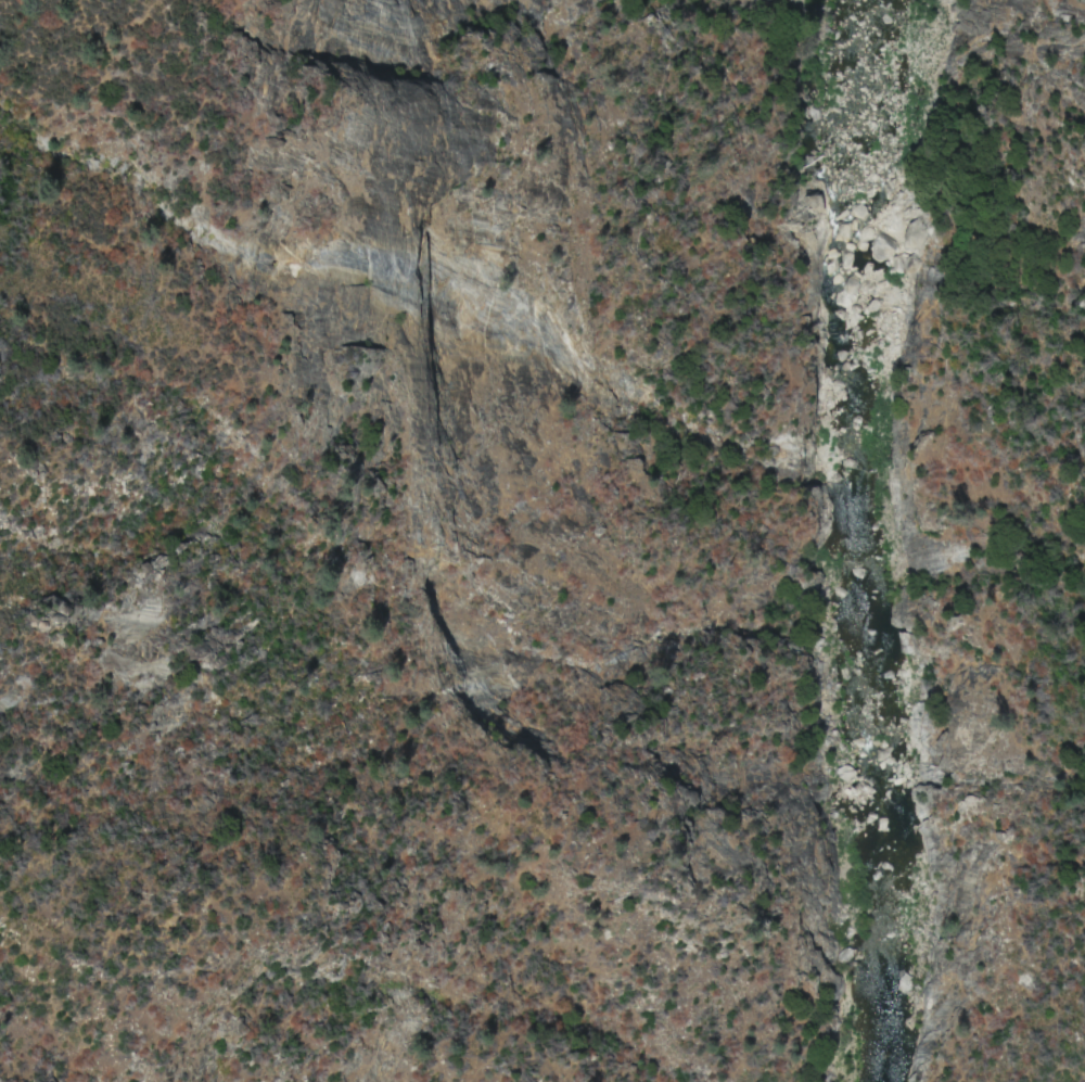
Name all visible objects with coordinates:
river: (868, 538)

